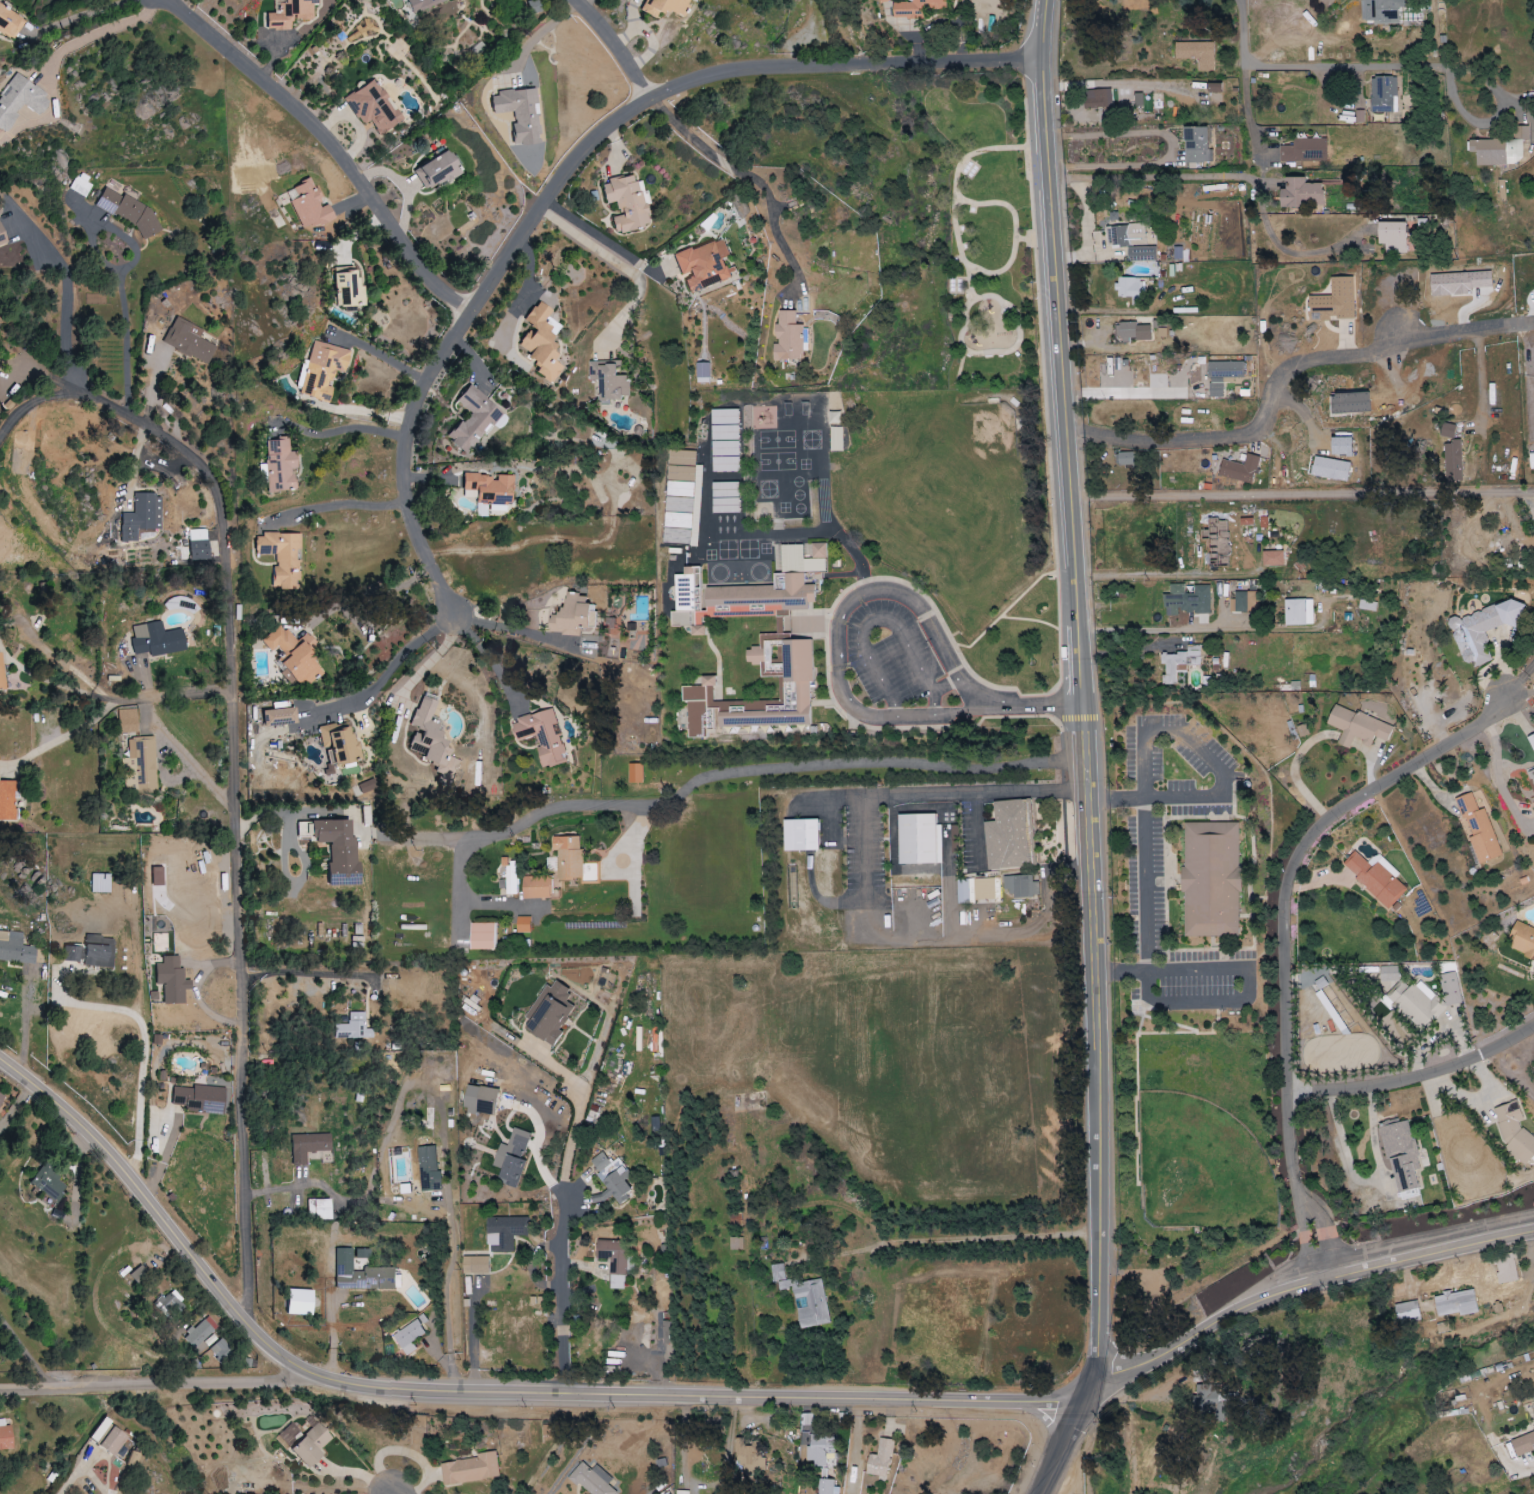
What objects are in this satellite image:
building: (422, 4)
building: (663, 6)
building: (914, 7)
building: (1381, 11)
building: (290, 13)
road: (81, 16)
building: (10, 23)
road: (97, 33)
road: (539, 34)
road: (619, 45)
building: (1196, 53)
road: (1345, 65)
building: (1214, 87)
building: (1382, 94)
building: (1097, 98)
building: (20, 100)
building: (373, 106)
road: (1243, 108)
building: (519, 113)
road: (333, 144)
building: (1196, 144)
road: (1169, 147)
building: (1500, 149)
building: (1304, 150)
building: (436, 170)
road: (570, 172)
road: (744, 176)
road: (1212, 178)
building: (82, 185)
building: (1300, 193)
building: (626, 202)
building: (308, 204)
building: (127, 211)
road: (955, 230)
road: (1011, 231)
park: (973, 236)
building: (1392, 236)
building: (2, 238)
road: (1030, 239)
building: (1132, 242)
building: (703, 265)
road: (628, 270)
road: (122, 277)
building: (1458, 282)
building: (1129, 287)
building: (347, 288)
road: (67, 292)
building: (1334, 301)
road: (1015, 331)
building: (1131, 332)
building: (787, 337)
building: (189, 340)
building: (541, 341)
road: (385, 359)
building: (0, 368)
building: (323, 369)
building: (702, 373)
building: (1222, 375)
road: (1280, 375)
road: (1480, 381)
building: (608, 382)
road: (1132, 391)
road: (28, 404)
building: (834, 417)
building: (475, 419)
road: (353, 430)
building: (1447, 430)
building: (836, 439)
building: (724, 440)
building: (1341, 446)
building: (1124, 458)
building: (1452, 462)
building: (280, 465)
building: (681, 466)
building: (1239, 469)
building: (1329, 469)
building: (490, 487)
building: (679, 489)
road: (1299, 495)
building: (724, 497)
road: (343, 502)
building: (139, 517)
building: (677, 520)
building: (198, 544)
building: (791, 552)
building: (282, 557)
building: (1272, 558)
road: (1164, 574)
road: (371, 592)
building: (737, 600)
building: (1186, 600)
building: (1246, 602)
building: (1367, 605)
building: (1298, 612)
building: (572, 616)
road: (880, 621)
road: (839, 623)
road: (510, 629)
road: (1139, 630)
building: (1481, 632)
building: (157, 639)
building: (294, 655)
parking lot: (893, 660)
building: (1179, 663)
road: (396, 676)
road: (1520, 677)
building: (1, 678)
road: (58, 683)
building: (1294, 686)
road: (1519, 691)
building: (697, 694)
road: (118, 702)
road: (1027, 703)
building: (279, 717)
building: (128, 721)
building: (1357, 728)
building: (541, 737)
building: (431, 742)
building: (1531, 742)
building: (339, 743)
road: (1196, 746)
road: (191, 748)
road: (1081, 753)
road: (837, 762)
building: (141, 765)
building: (634, 773)
building: (1531, 777)
road: (1149, 798)
building: (7, 800)
road: (245, 815)
building: (1533, 817)
building: (303, 829)
building: (1478, 830)
building: (800, 835)
building: (1008, 836)
building: (918, 840)
building: (338, 850)
building: (567, 857)
building: (510, 874)
building: (1375, 877)
building: (1211, 879)
road: (1145, 881)
building: (100, 883)
building: (1022, 886)
building: (536, 887)
building: (152, 889)
road: (865, 890)
building: (975, 890)
building: (965, 918)
building: (523, 925)
road: (1288, 935)
building: (481, 936)
building: (1521, 941)
building: (15, 948)
building: (91, 953)
road: (319, 970)
building: (1389, 974)
building: (172, 980)
building: (1321, 983)
road: (1247, 996)
building: (1416, 1003)
building: (549, 1013)
building: (354, 1027)
road: (145, 1041)
road: (1416, 1073)
building: (1, 1098)
building: (200, 1098)
building: (479, 1100)
building: (1514, 1133)
building: (309, 1146)
building: (1401, 1156)
building: (511, 1158)
building: (428, 1170)
road: (136, 1179)
building: (611, 1179)
road: (1365, 1179)
building: (48, 1183)
building: (319, 1210)
building: (505, 1234)
road: (562, 1241)
building: (735, 1244)
road: (862, 1252)
building: (362, 1253)
building: (613, 1261)
building: (475, 1266)
building: (1505, 1269)
building: (776, 1273)
building: (360, 1274)
building: (139, 1276)
road: (331, 1283)
road: (1306, 1287)
building: (298, 1302)
building: (809, 1302)
building: (1455, 1303)
building: (173, 1304)
building: (1409, 1309)
building: (198, 1333)
building: (664, 1336)
building: (408, 1337)
building: (208, 1343)
building: (220, 1350)
road: (25, 1352)
road: (157, 1386)
road: (665, 1397)
building: (1211, 1401)
building: (4, 1434)
building: (107, 1436)
building: (305, 1441)
building: (1523, 1444)
building: (819, 1449)
building: (749, 1457)
building: (879, 1460)
road: (1527, 1468)
building: (469, 1469)
building: (591, 1479)
road: (398, 1489)
building: (682, 1492)

